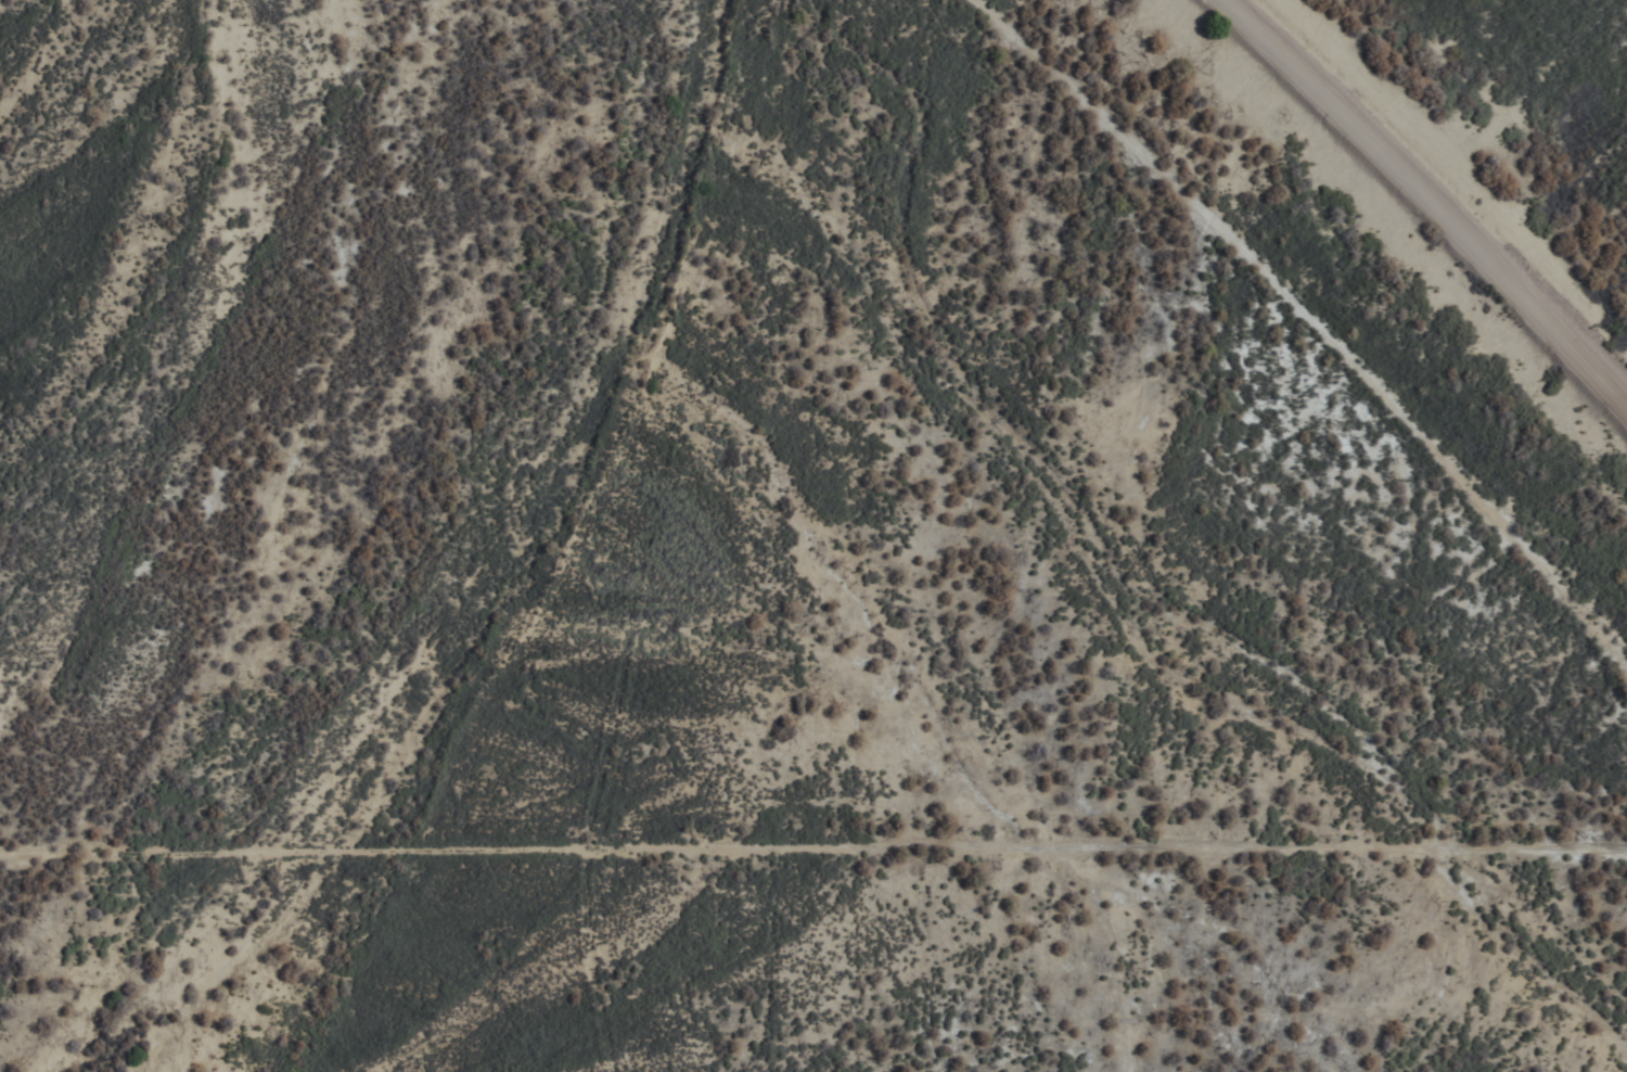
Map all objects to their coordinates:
road: (1419, 209)

